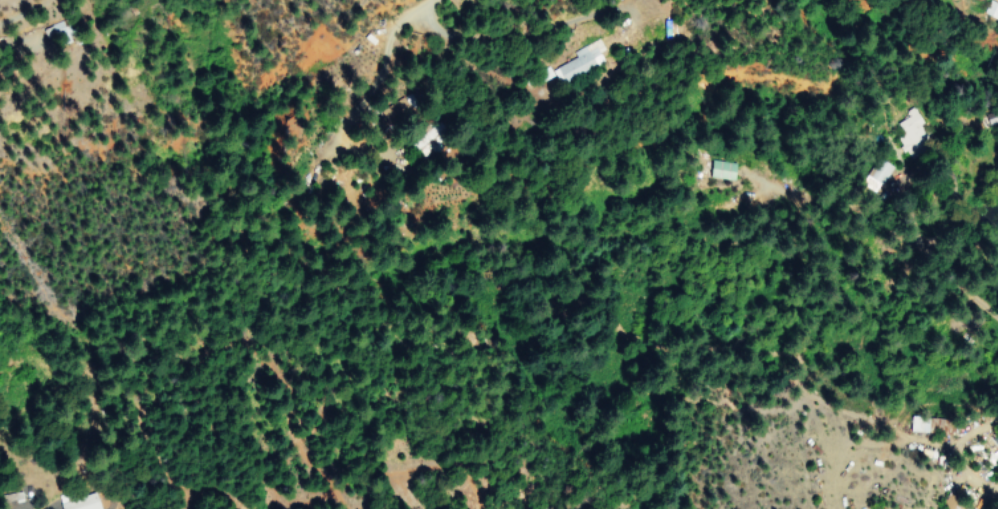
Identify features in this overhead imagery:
building: (982, 0)
building: (991, 9)
road: (459, 36)
building: (580, 61)
building: (910, 131)
building: (721, 169)
building: (876, 174)
road: (964, 268)
building: (915, 427)
building: (79, 503)

